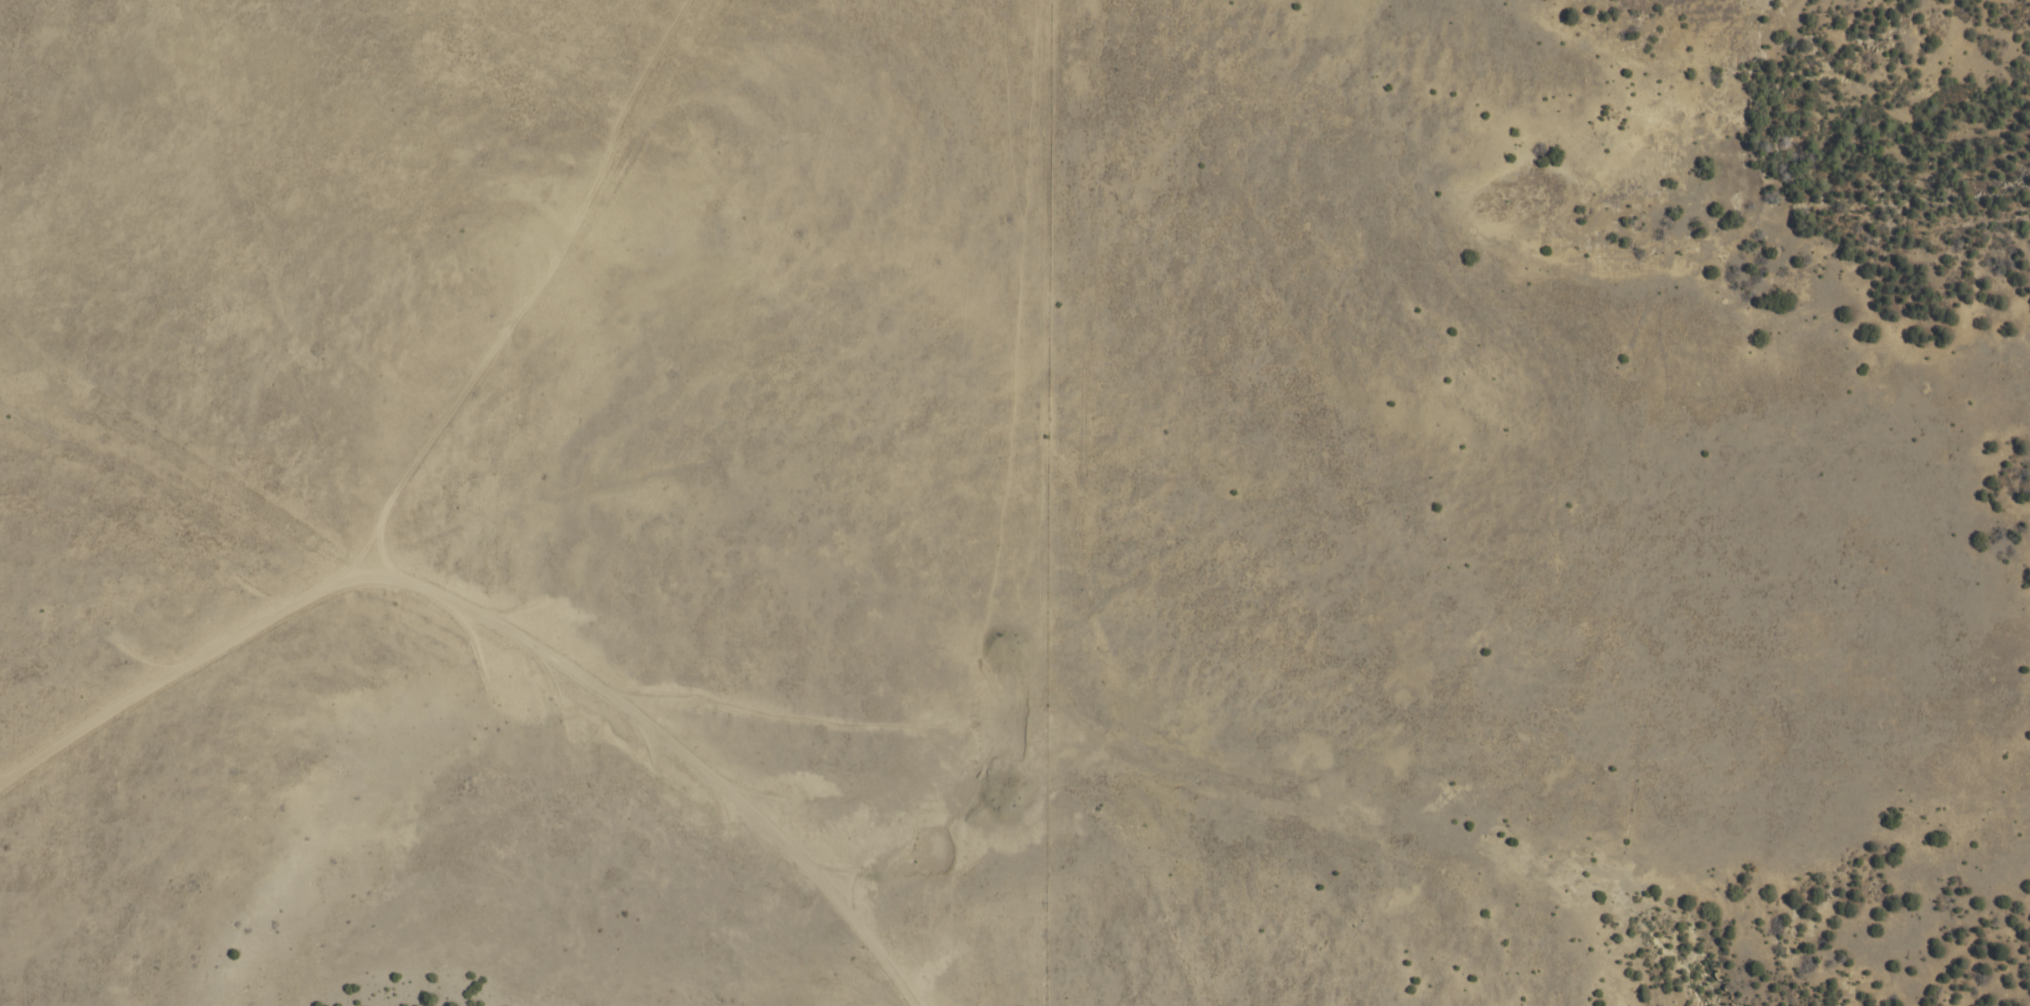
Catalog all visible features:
road: (492, 623)

